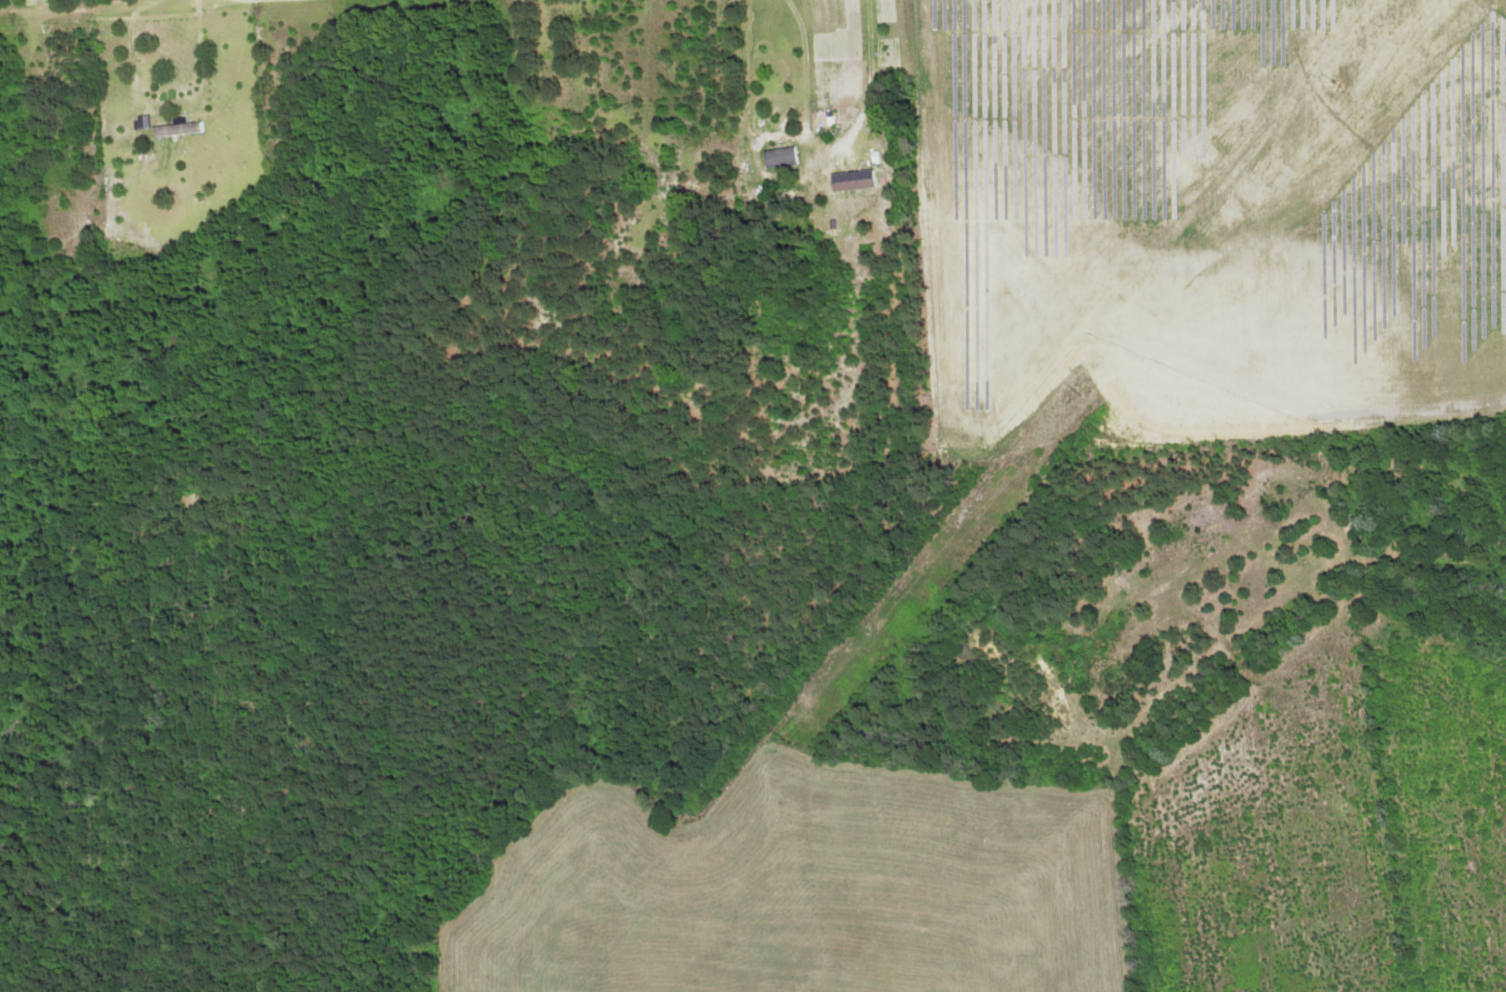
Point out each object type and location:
road: (100, 7)
power tower: (1336, 81)
building: (175, 129)
building: (779, 157)
building: (854, 185)
power tower: (1077, 385)
building: (1459, 536)
power tower: (785, 740)

